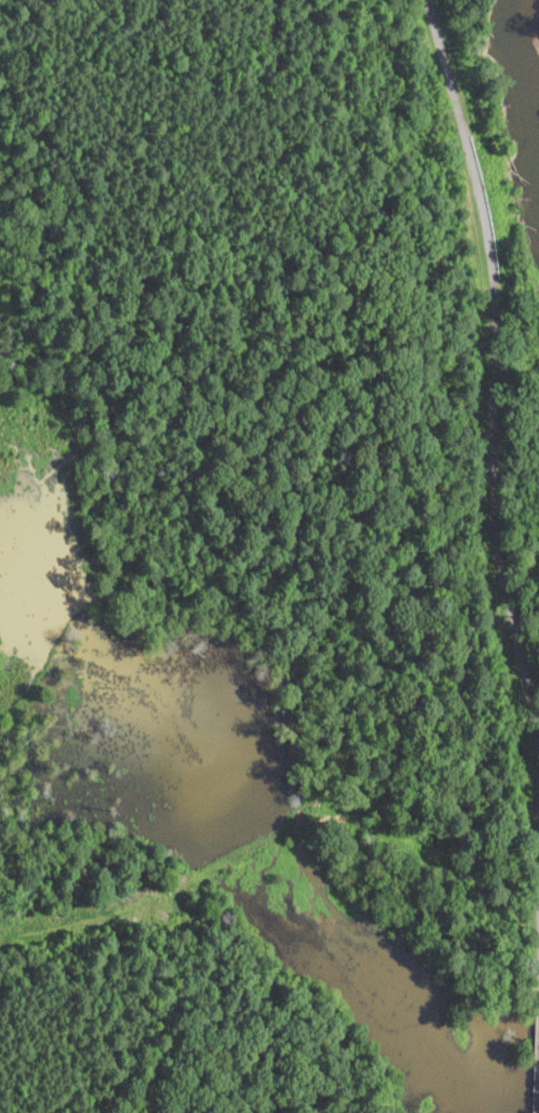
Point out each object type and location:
river: (536, 27)
road: (491, 375)
park: (48, 556)
road: (536, 1060)

